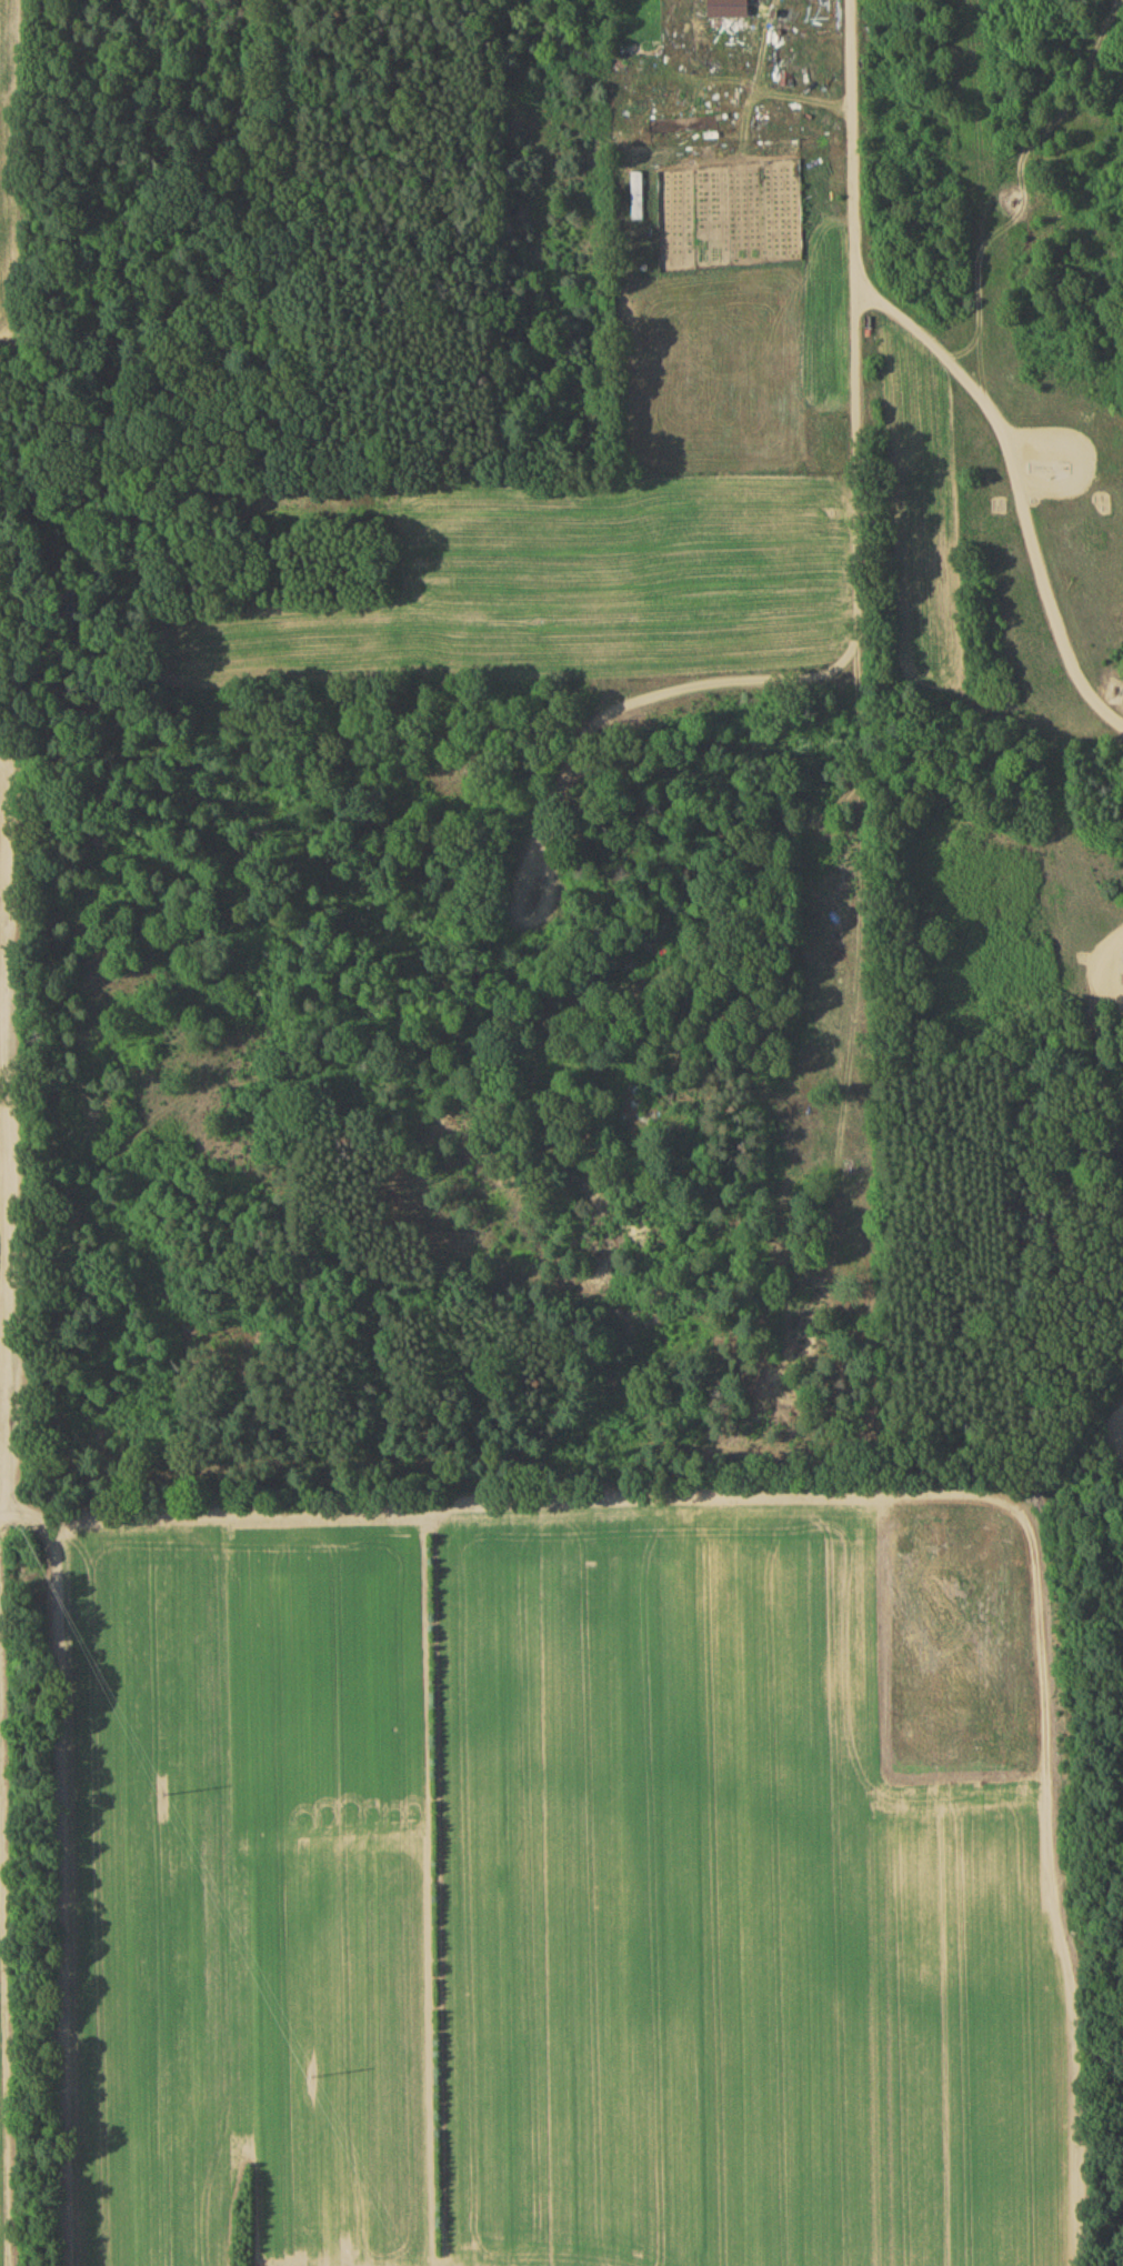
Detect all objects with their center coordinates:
building: (731, 10)
building: (638, 199)
road: (1021, 493)
road: (856, 563)
road: (1120, 955)

